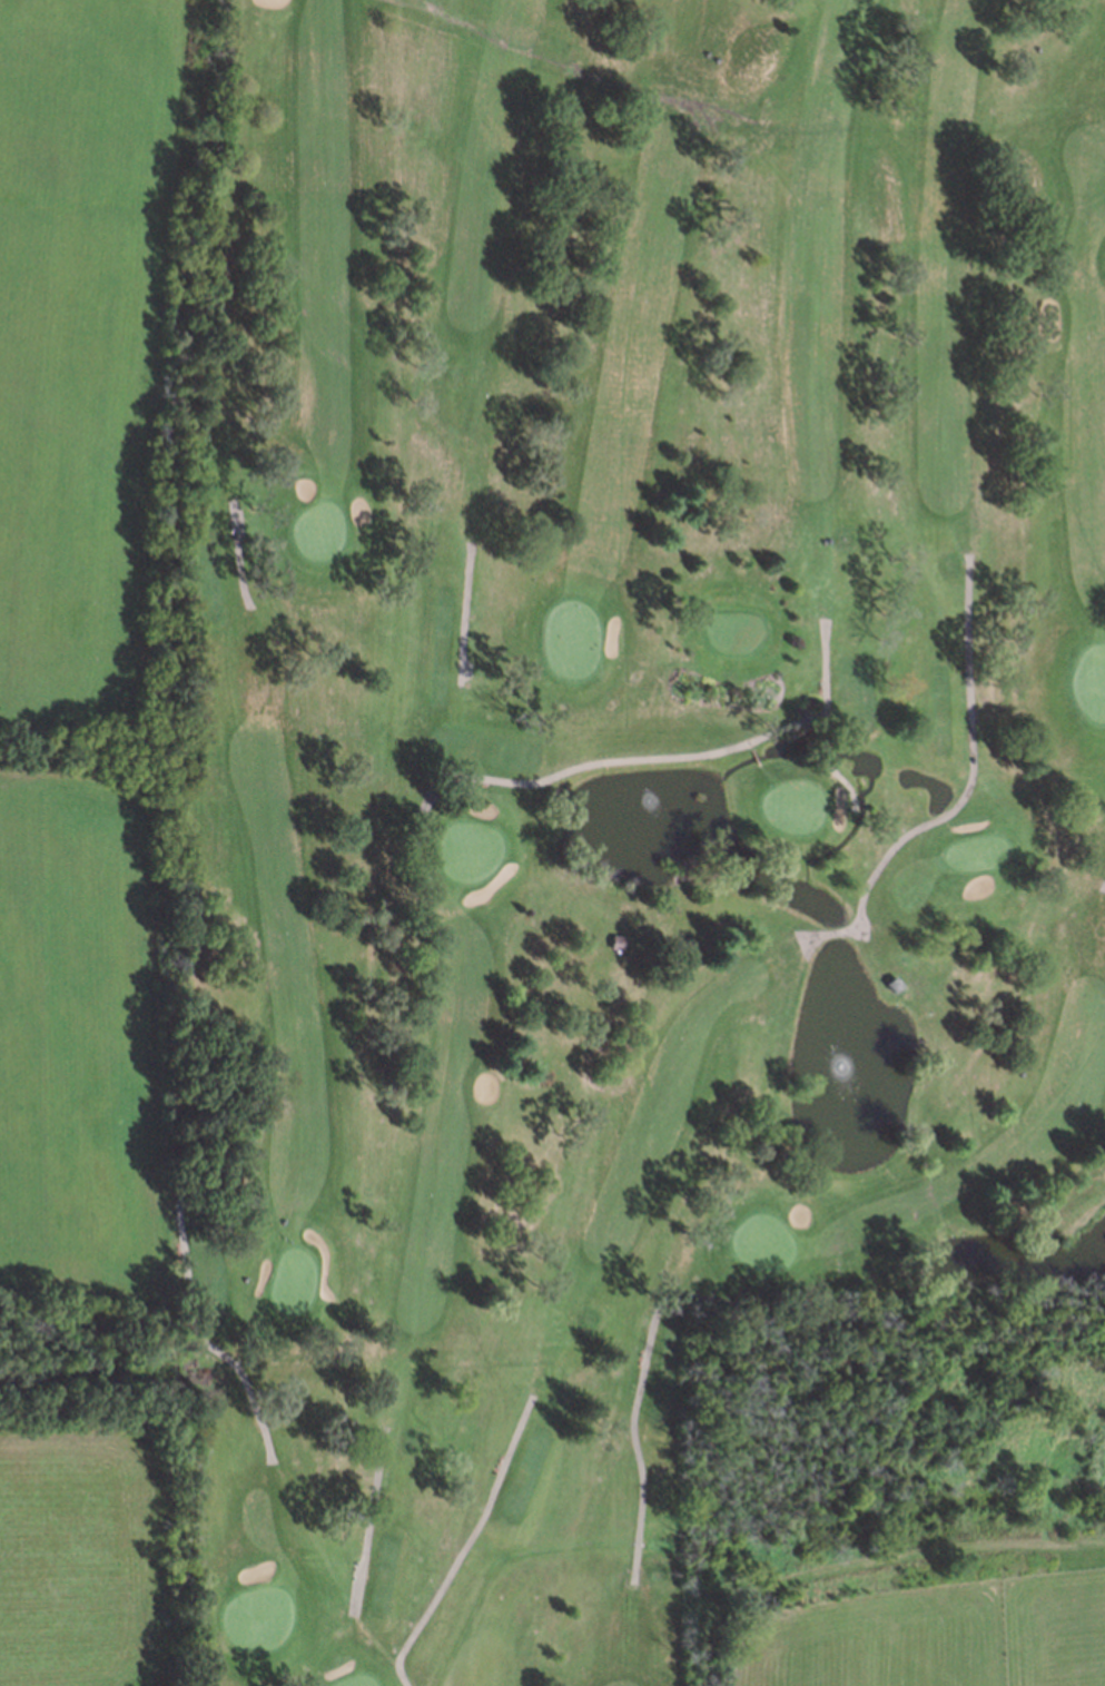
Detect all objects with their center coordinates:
road: (238, 552)
road: (465, 613)
road: (757, 756)
road: (633, 760)
road: (836, 769)
road: (965, 793)
park: (616, 800)
building: (612, 941)
road: (184, 1255)
road: (641, 1371)
road: (369, 1518)
road: (466, 1542)

